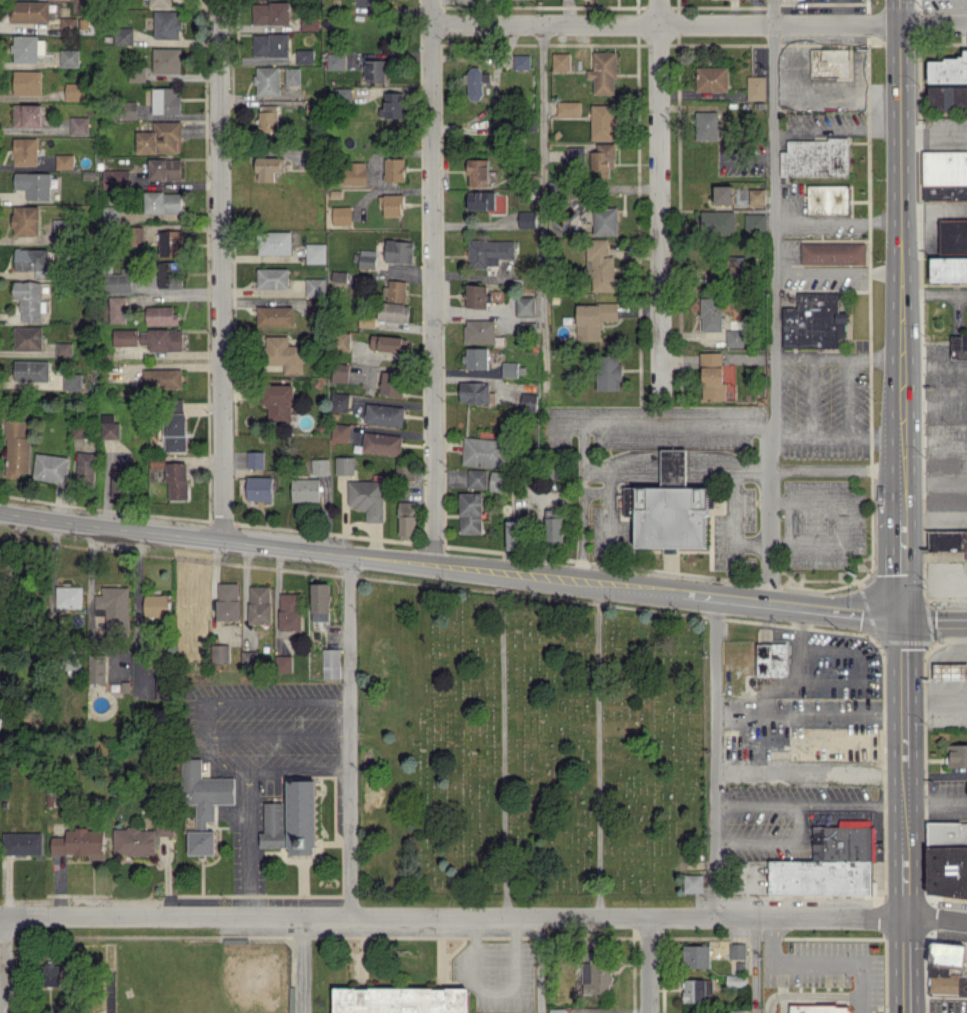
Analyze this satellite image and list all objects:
building: (160, 3)
building: (31, 11)
building: (271, 13)
building: (309, 22)
road: (697, 23)
building: (68, 24)
building: (167, 24)
building: (123, 35)
building: (271, 44)
building: (28, 48)
building: (305, 56)
building: (69, 58)
building: (167, 60)
building: (336, 60)
building: (522, 61)
building: (561, 61)
building: (830, 62)
building: (948, 69)
building: (375, 70)
building: (603, 72)
building: (137, 75)
building: (292, 76)
building: (711, 78)
building: (267, 80)
building: (27, 82)
building: (476, 82)
building: (756, 87)
building: (75, 91)
building: (342, 95)
building: (948, 97)
building: (166, 100)
building: (392, 105)
building: (569, 108)
building: (128, 110)
building: (28, 115)
building: (268, 118)
building: (603, 121)
building: (79, 125)
building: (707, 125)
road: (833, 132)
building: (160, 138)
road: (932, 143)
building: (25, 151)
building: (575, 155)
building: (815, 158)
building: (602, 160)
building: (64, 161)
building: (269, 167)
building: (165, 168)
building: (394, 169)
building: (478, 172)
building: (355, 174)
road: (897, 177)
building: (116, 179)
building: (34, 185)
building: (723, 194)
building: (757, 196)
road: (658, 199)
building: (827, 199)
building: (481, 200)
building: (163, 202)
building: (392, 204)
road: (544, 205)
road: (932, 214)
building: (110, 215)
building: (342, 215)
building: (527, 219)
building: (26, 220)
building: (605, 220)
building: (717, 220)
building: (755, 221)
building: (138, 234)
building: (953, 236)
building: (274, 242)
building: (171, 243)
building: (399, 251)
building: (489, 252)
building: (316, 253)
building: (833, 253)
building: (365, 258)
building: (32, 259)
building: (600, 265)
building: (948, 269)
road: (219, 270)
building: (166, 275)
building: (339, 276)
building: (273, 278)
building: (120, 282)
road: (430, 283)
building: (315, 287)
building: (395, 290)
building: (475, 295)
building: (29, 300)
road: (768, 302)
building: (524, 305)
building: (117, 309)
building: (393, 312)
building: (711, 314)
building: (161, 315)
building: (275, 315)
building: (593, 319)
building: (814, 320)
building: (479, 331)
building: (28, 337)
building: (126, 337)
building: (734, 338)
building: (165, 339)
building: (342, 341)
building: (388, 343)
building: (959, 346)
building: (63, 349)
building: (283, 353)
road: (833, 355)
building: (476, 357)
building: (509, 369)
building: (32, 370)
building: (340, 372)
building: (609, 372)
building: (712, 376)
building: (162, 378)
building: (72, 381)
building: (391, 383)
building: (474, 392)
road: (899, 395)
building: (340, 401)
building: (528, 401)
building: (278, 402)
building: (384, 414)
road: (565, 421)
road: (591, 421)
building: (174, 424)
building: (110, 426)
building: (79, 431)
building: (340, 432)
road: (833, 436)
building: (381, 443)
building: (17, 448)
building: (482, 451)
road: (670, 458)
building: (255, 459)
road: (725, 461)
building: (345, 465)
building: (320, 466)
building: (673, 466)
road: (899, 466)
building: (50, 467)
building: (85, 467)
road: (832, 467)
road: (593, 470)
building: (404, 471)
building: (476, 478)
building: (177, 480)
building: (497, 480)
building: (118, 481)
building: (259, 488)
building: (306, 489)
building: (367, 498)
road: (610, 502)
building: (626, 503)
road: (899, 504)
building: (470, 512)
building: (671, 517)
building: (406, 518)
road: (844, 520)
road: (730, 523)
building: (553, 526)
building: (513, 534)
building: (947, 540)
road: (899, 566)
road: (449, 567)
building: (196, 595)
building: (69, 596)
building: (227, 601)
building: (320, 601)
building: (157, 604)
building: (260, 604)
building: (113, 607)
road: (139, 610)
building: (289, 611)
traffic signals: (900, 621)
road: (933, 621)
building: (182, 649)
building: (219, 653)
building: (249, 656)
building: (772, 659)
building: (283, 663)
building: (330, 663)
building: (97, 669)
building: (947, 671)
road: (901, 694)
road: (277, 701)
building: (0, 717)
road: (204, 719)
road: (245, 736)
road: (349, 736)
road: (503, 745)
park: (526, 751)
road: (598, 751)
building: (957, 755)
road: (713, 757)
road: (298, 770)
road: (807, 772)
building: (204, 791)
road: (850, 803)
road: (934, 803)
road: (902, 812)
building: (297, 820)
road: (798, 822)
building: (141, 838)
building: (201, 842)
building: (22, 843)
building: (80, 843)
road: (247, 844)
building: (947, 860)
building: (828, 863)
building: (692, 883)
road: (903, 886)
road: (451, 917)
road: (935, 919)
building: (737, 950)
building: (696, 956)
road: (818, 962)
road: (3, 964)
road: (647, 964)
road: (754, 964)
road: (903, 964)
road: (303, 965)
road: (539, 965)
building: (946, 969)
building: (596, 974)
building: (53, 975)
building: (736, 980)
building: (696, 989)
building: (396, 999)
building: (820, 1008)
building: (556, 1010)
building: (738, 1011)
building: (689, 1012)

